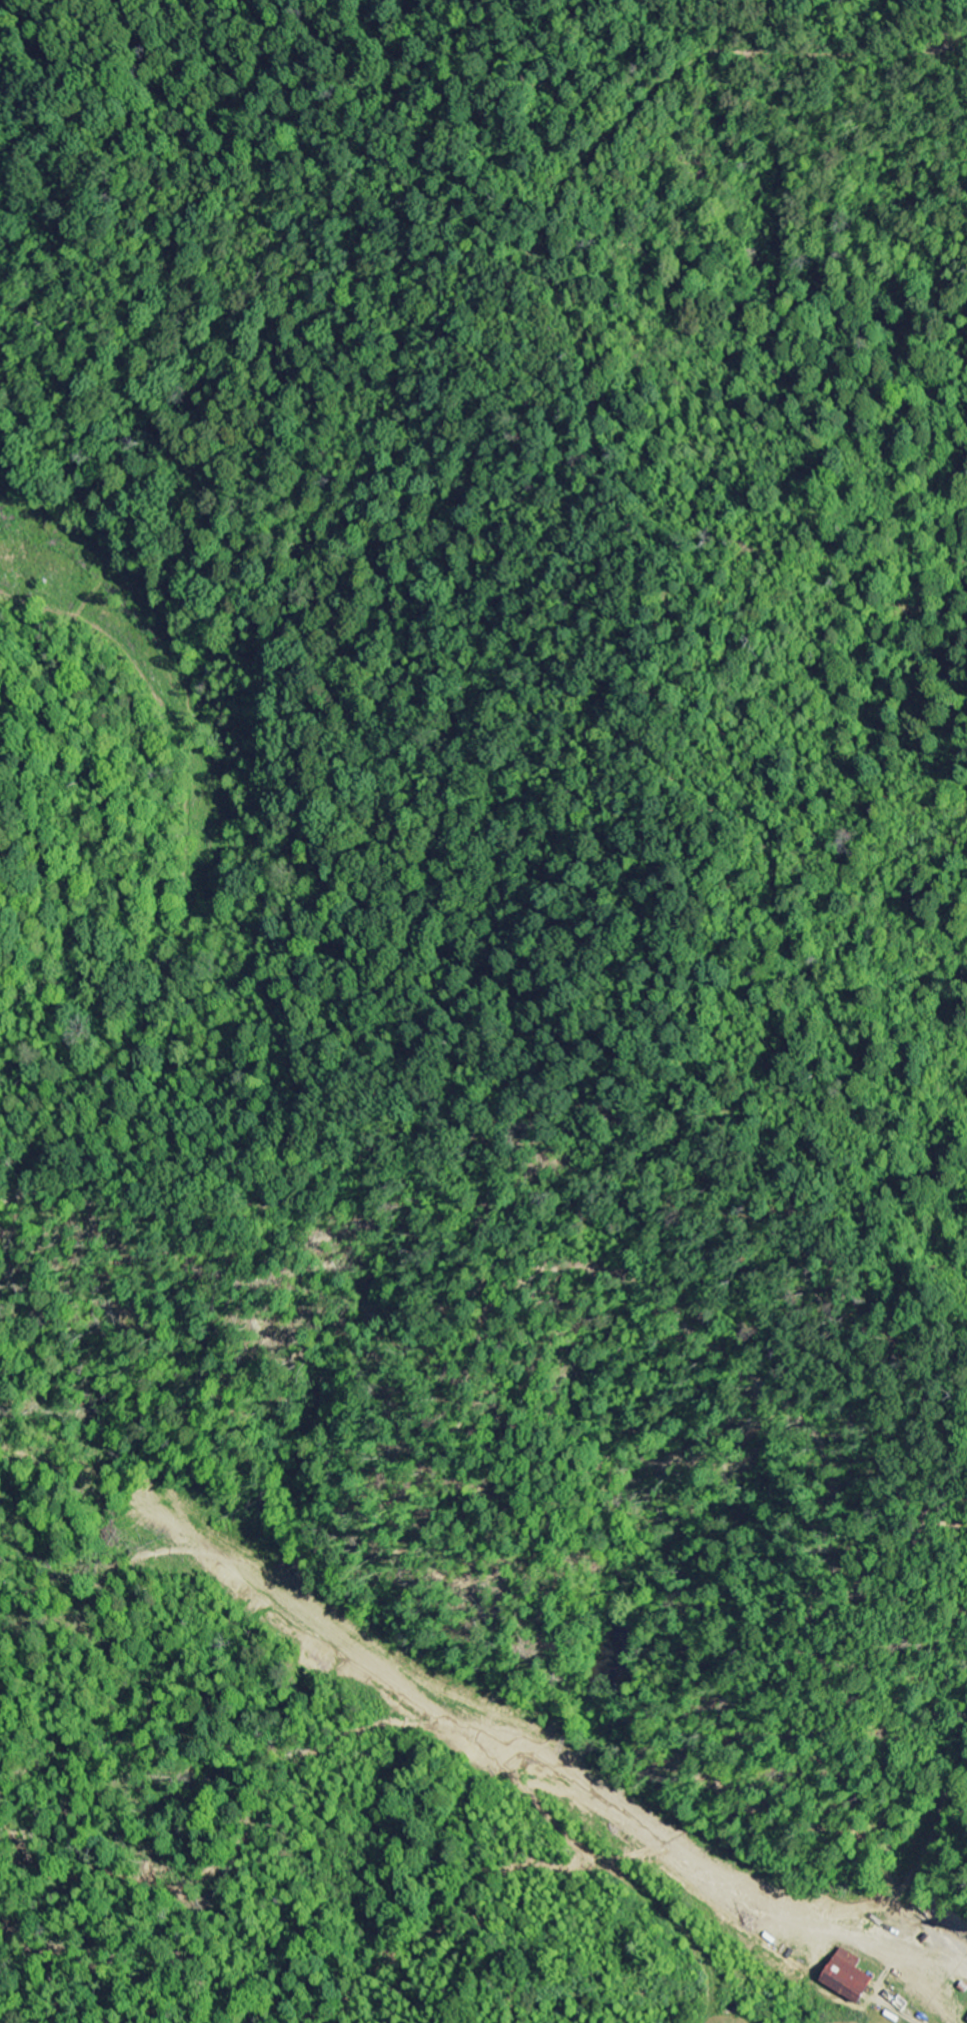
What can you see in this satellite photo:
building: (851, 1978)

